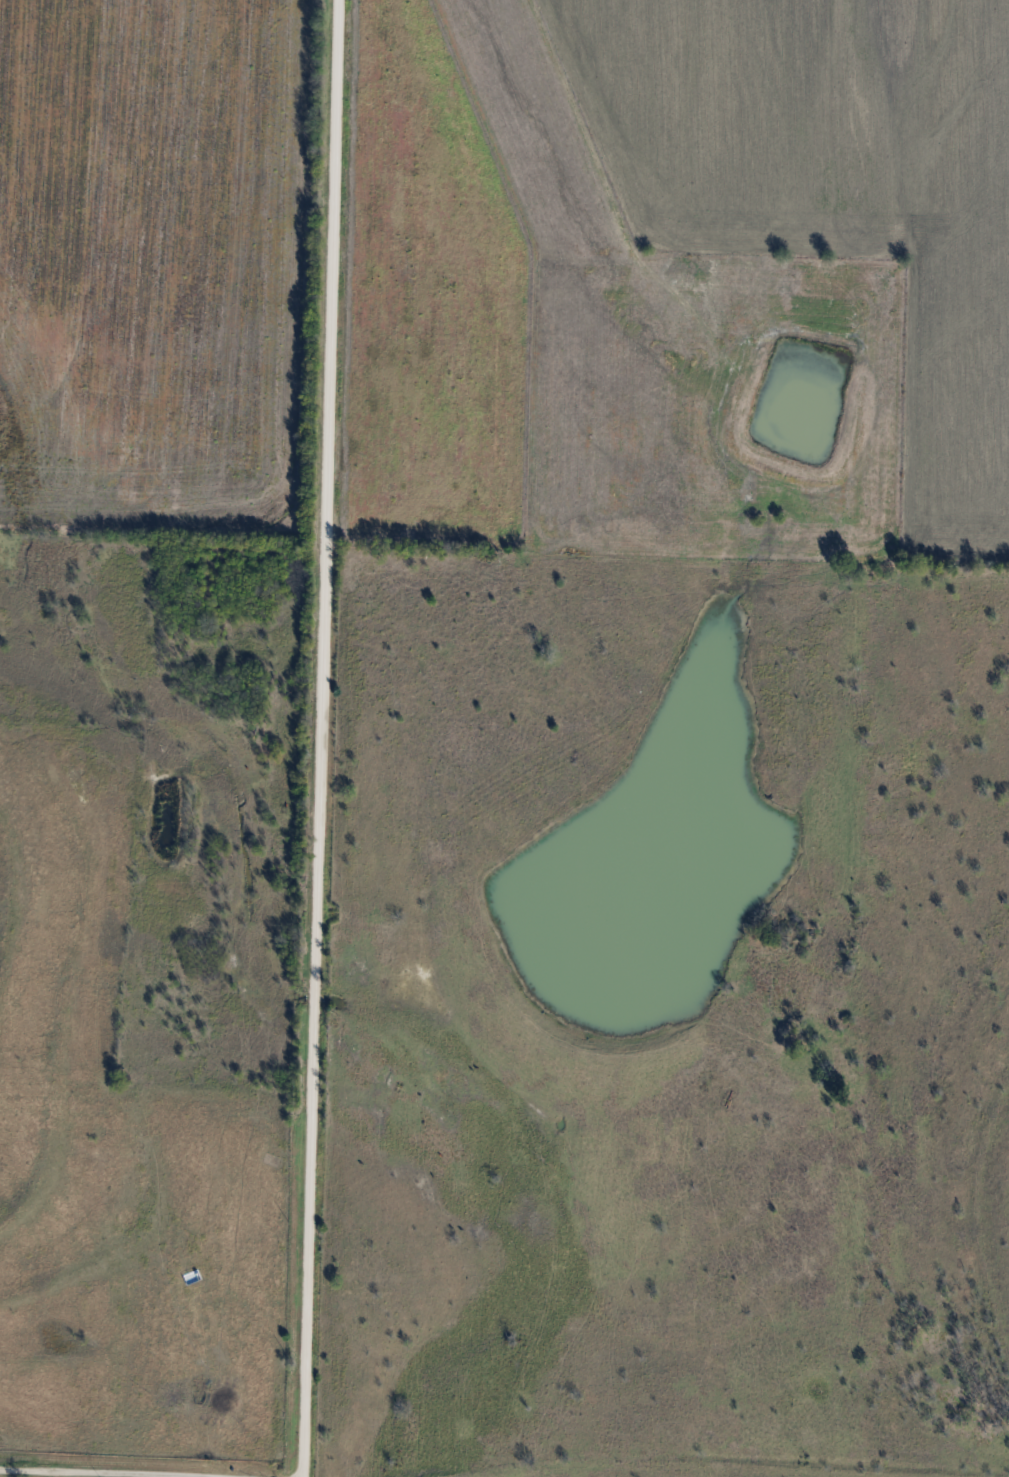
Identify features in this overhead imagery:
road: (319, 738)
road: (3, 1476)

